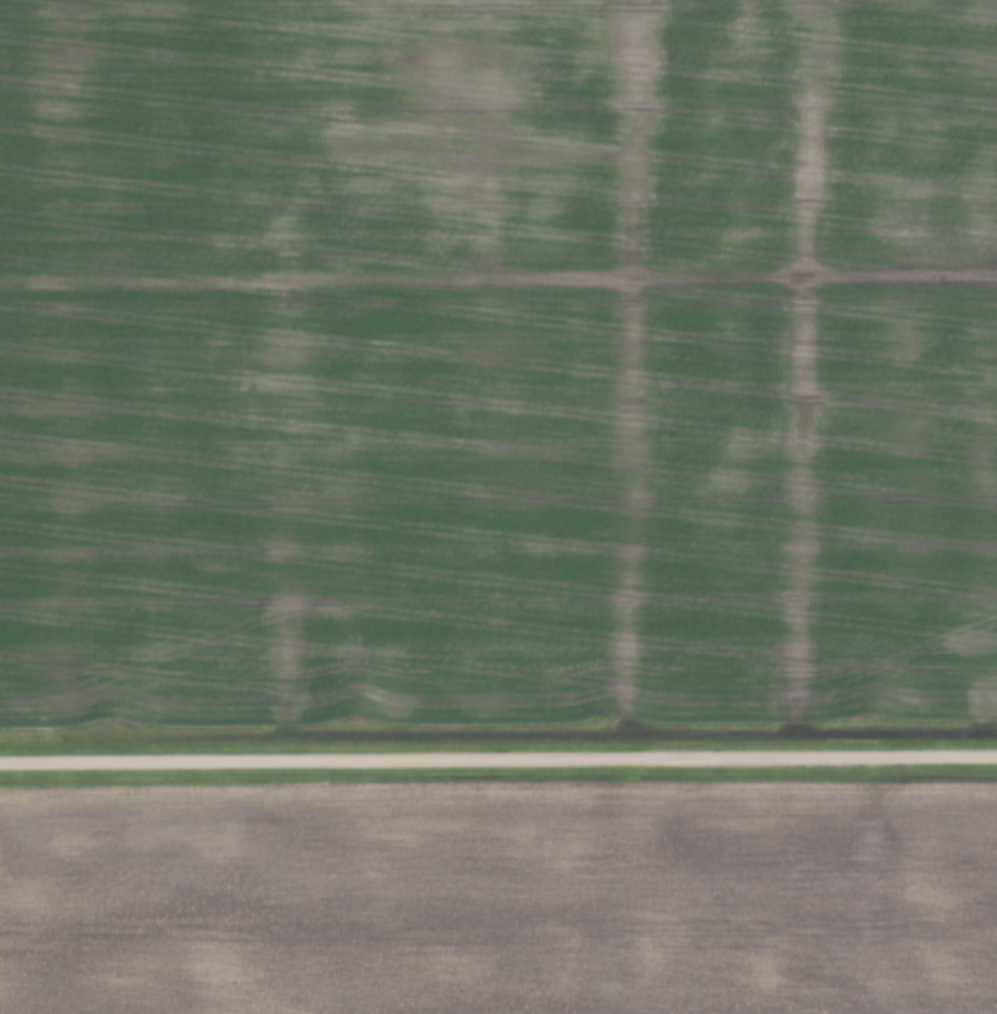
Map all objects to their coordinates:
crop: (497, 358)
road: (498, 757)
crop: (500, 898)

